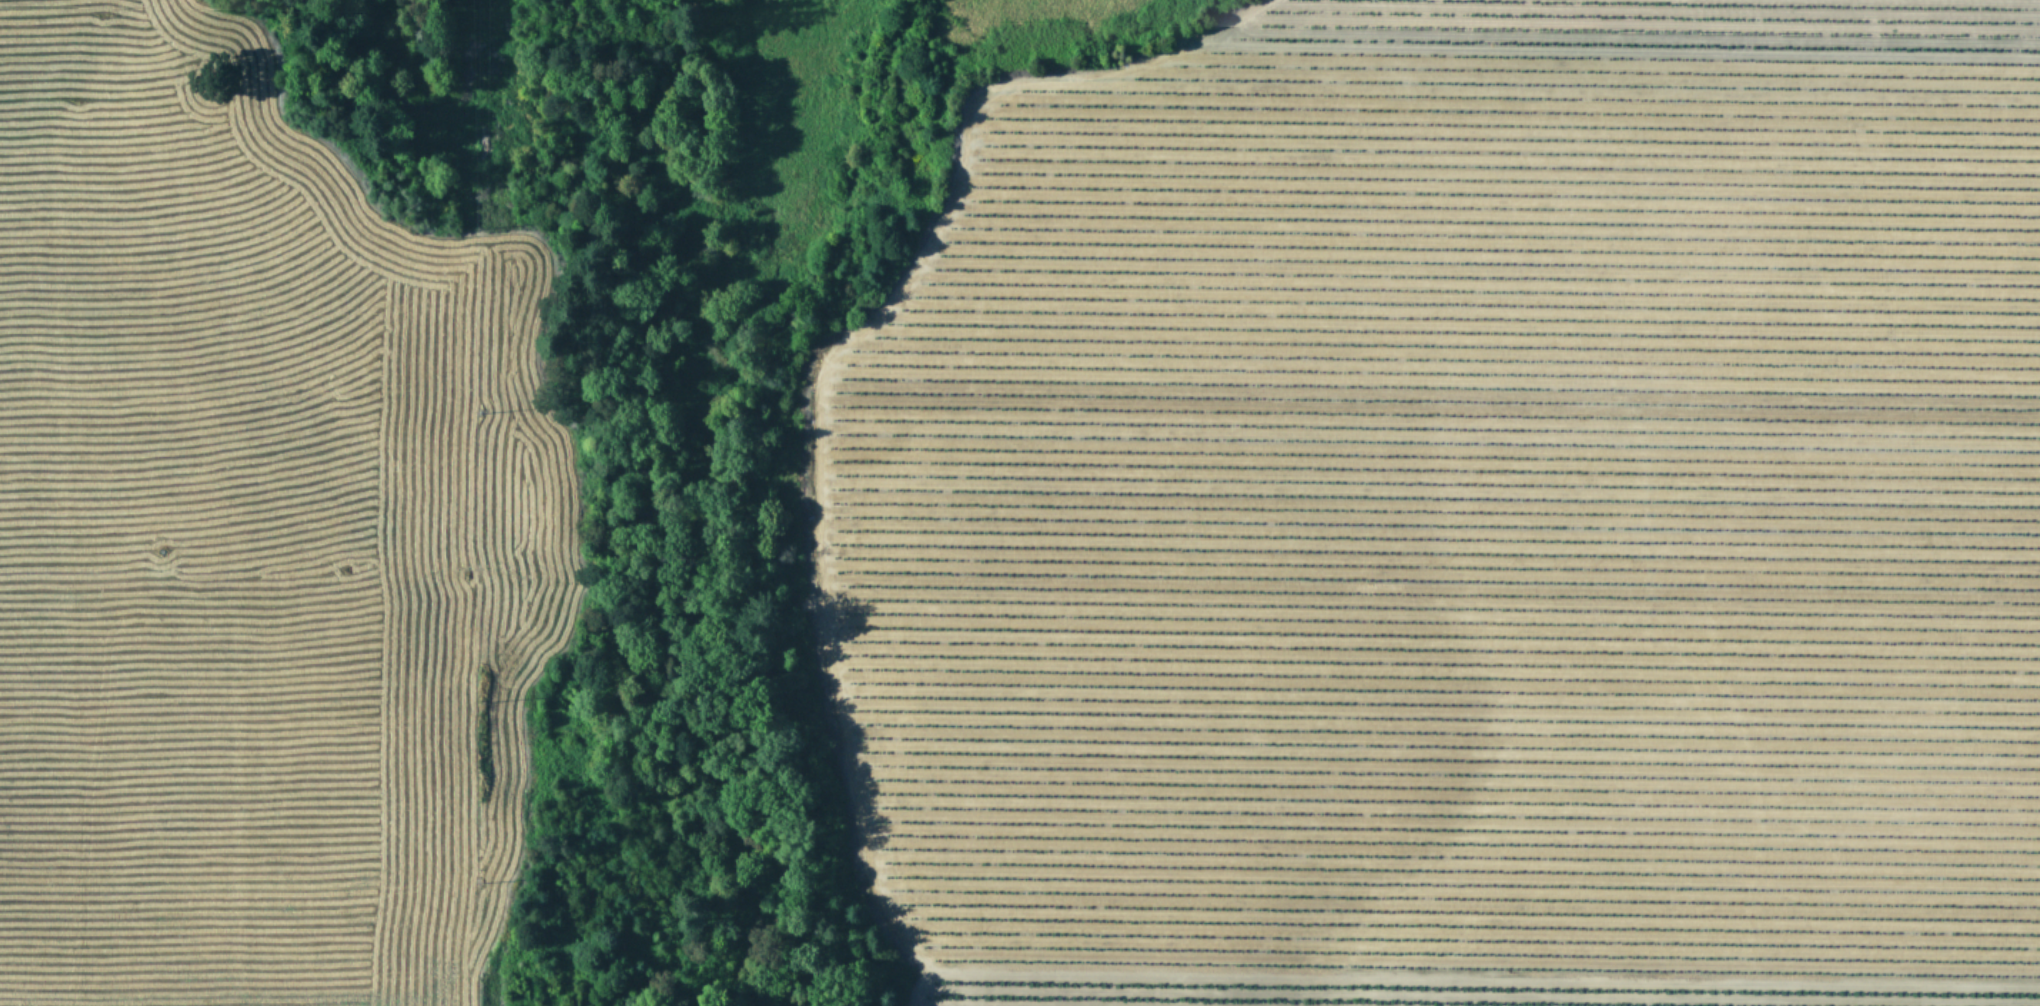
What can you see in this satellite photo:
crop: (1451, 505)
crop: (228, 558)

